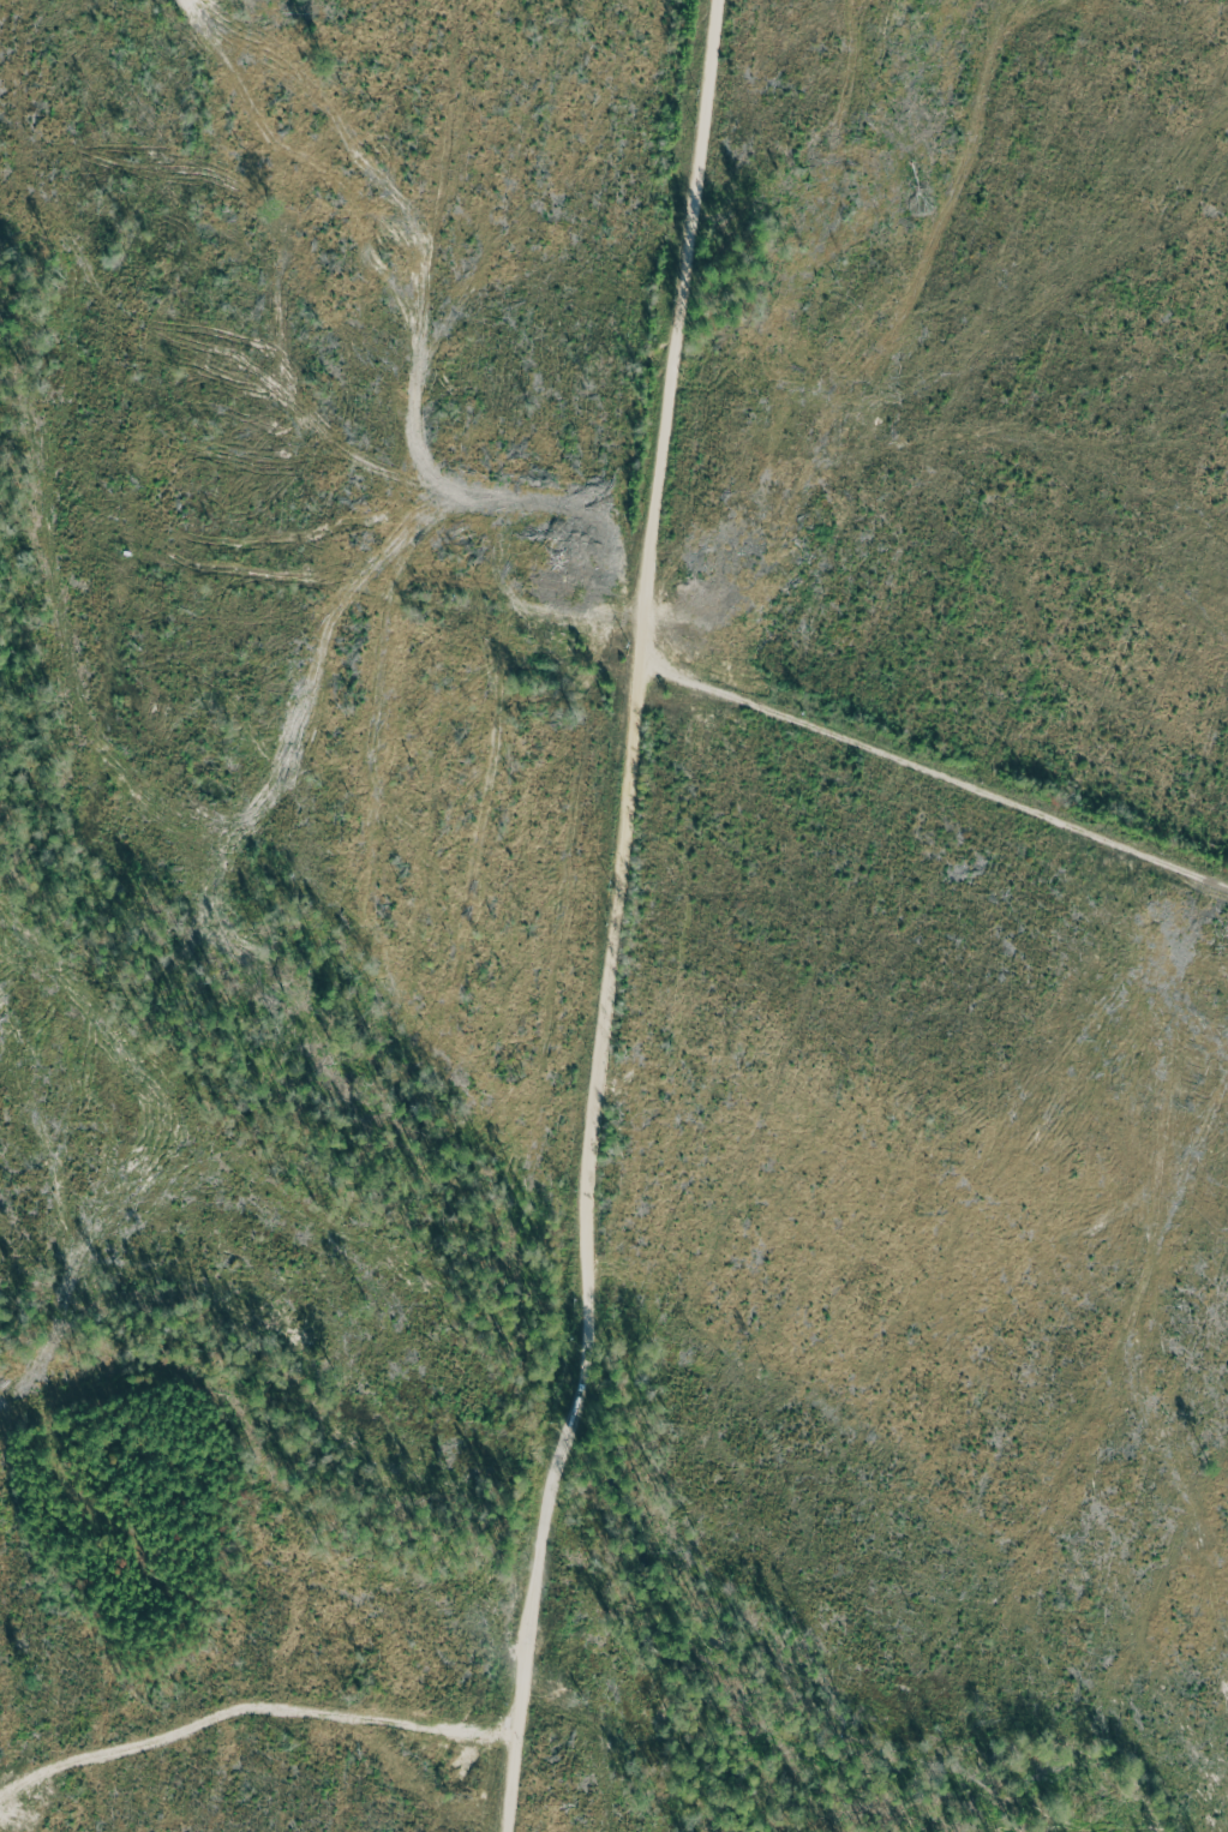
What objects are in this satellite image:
road: (610, 916)

